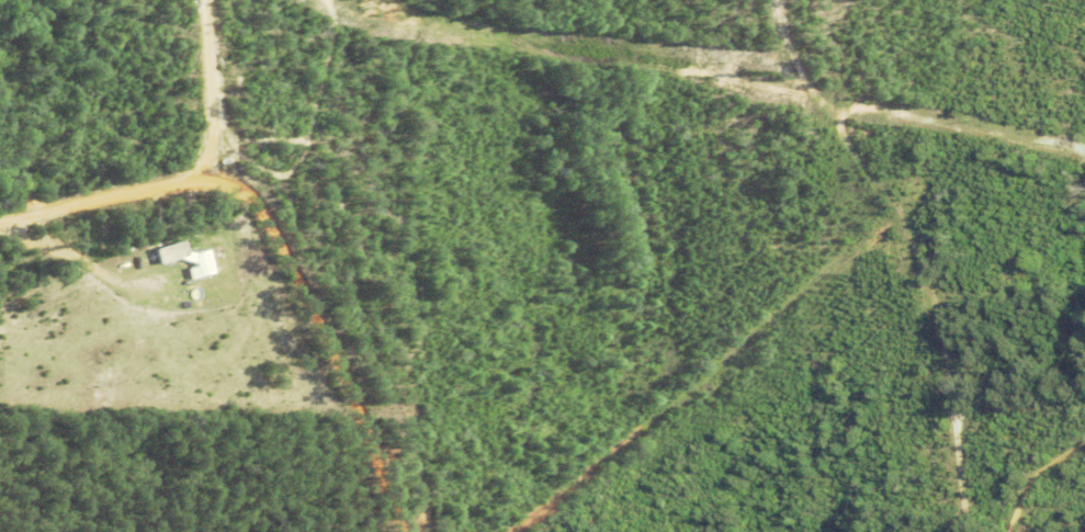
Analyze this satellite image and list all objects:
road: (213, 87)
road: (272, 236)
road: (68, 256)
road: (1013, 451)

